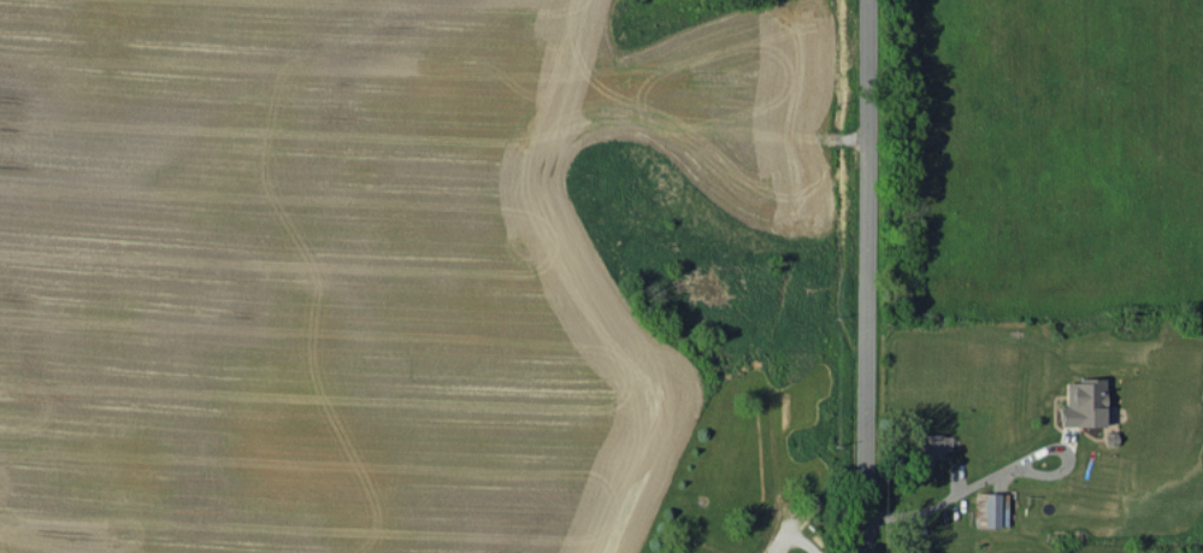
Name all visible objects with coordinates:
road: (860, 276)
building: (1083, 402)
building: (930, 448)
road: (993, 473)
building: (990, 510)
road: (794, 536)

